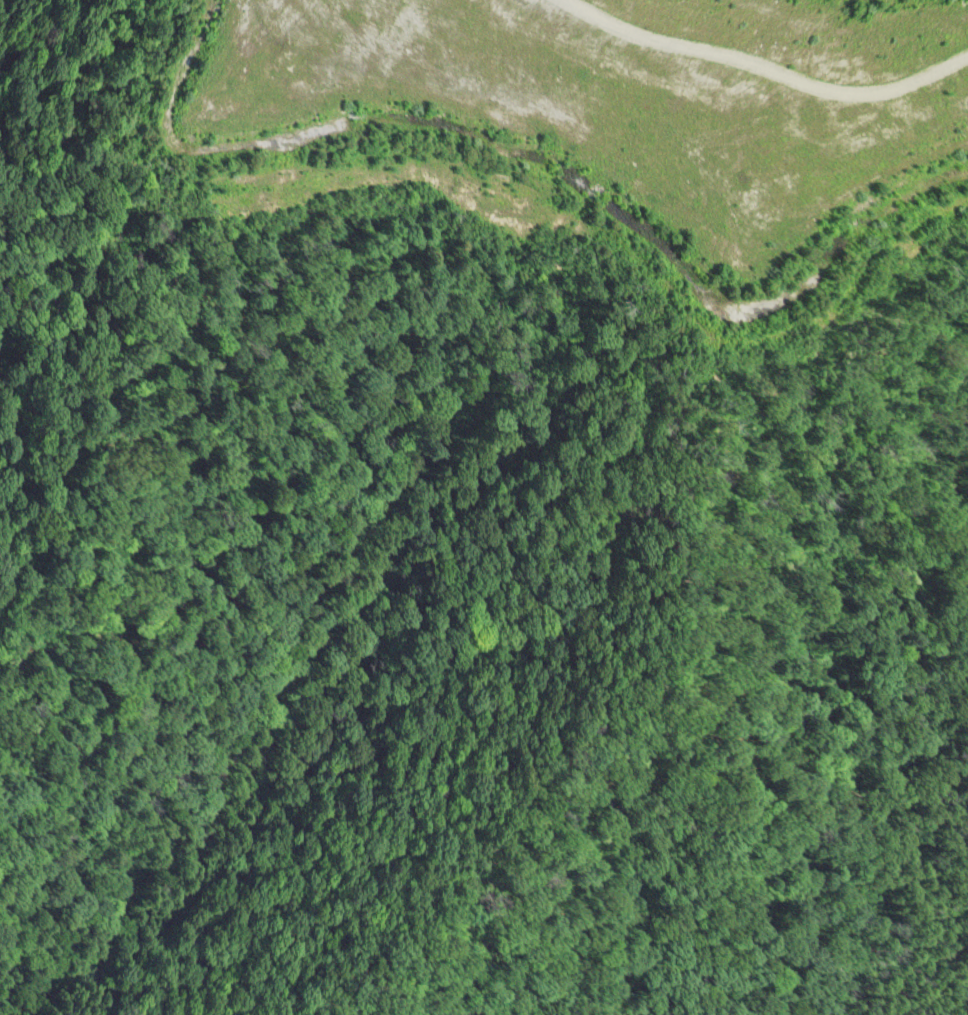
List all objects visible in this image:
quarry: (590, 139)

